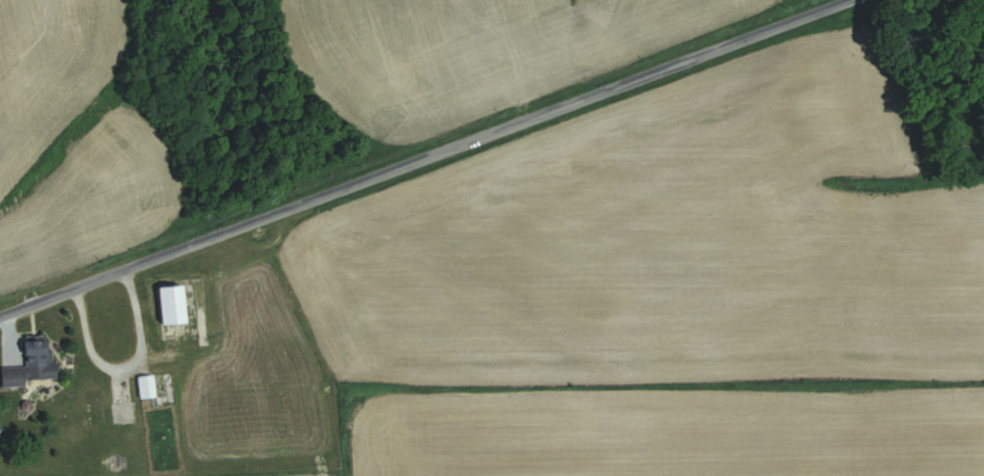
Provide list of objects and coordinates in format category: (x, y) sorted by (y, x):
road: (411, 152)
building: (178, 304)
road: (123, 357)
building: (36, 363)
building: (150, 386)

